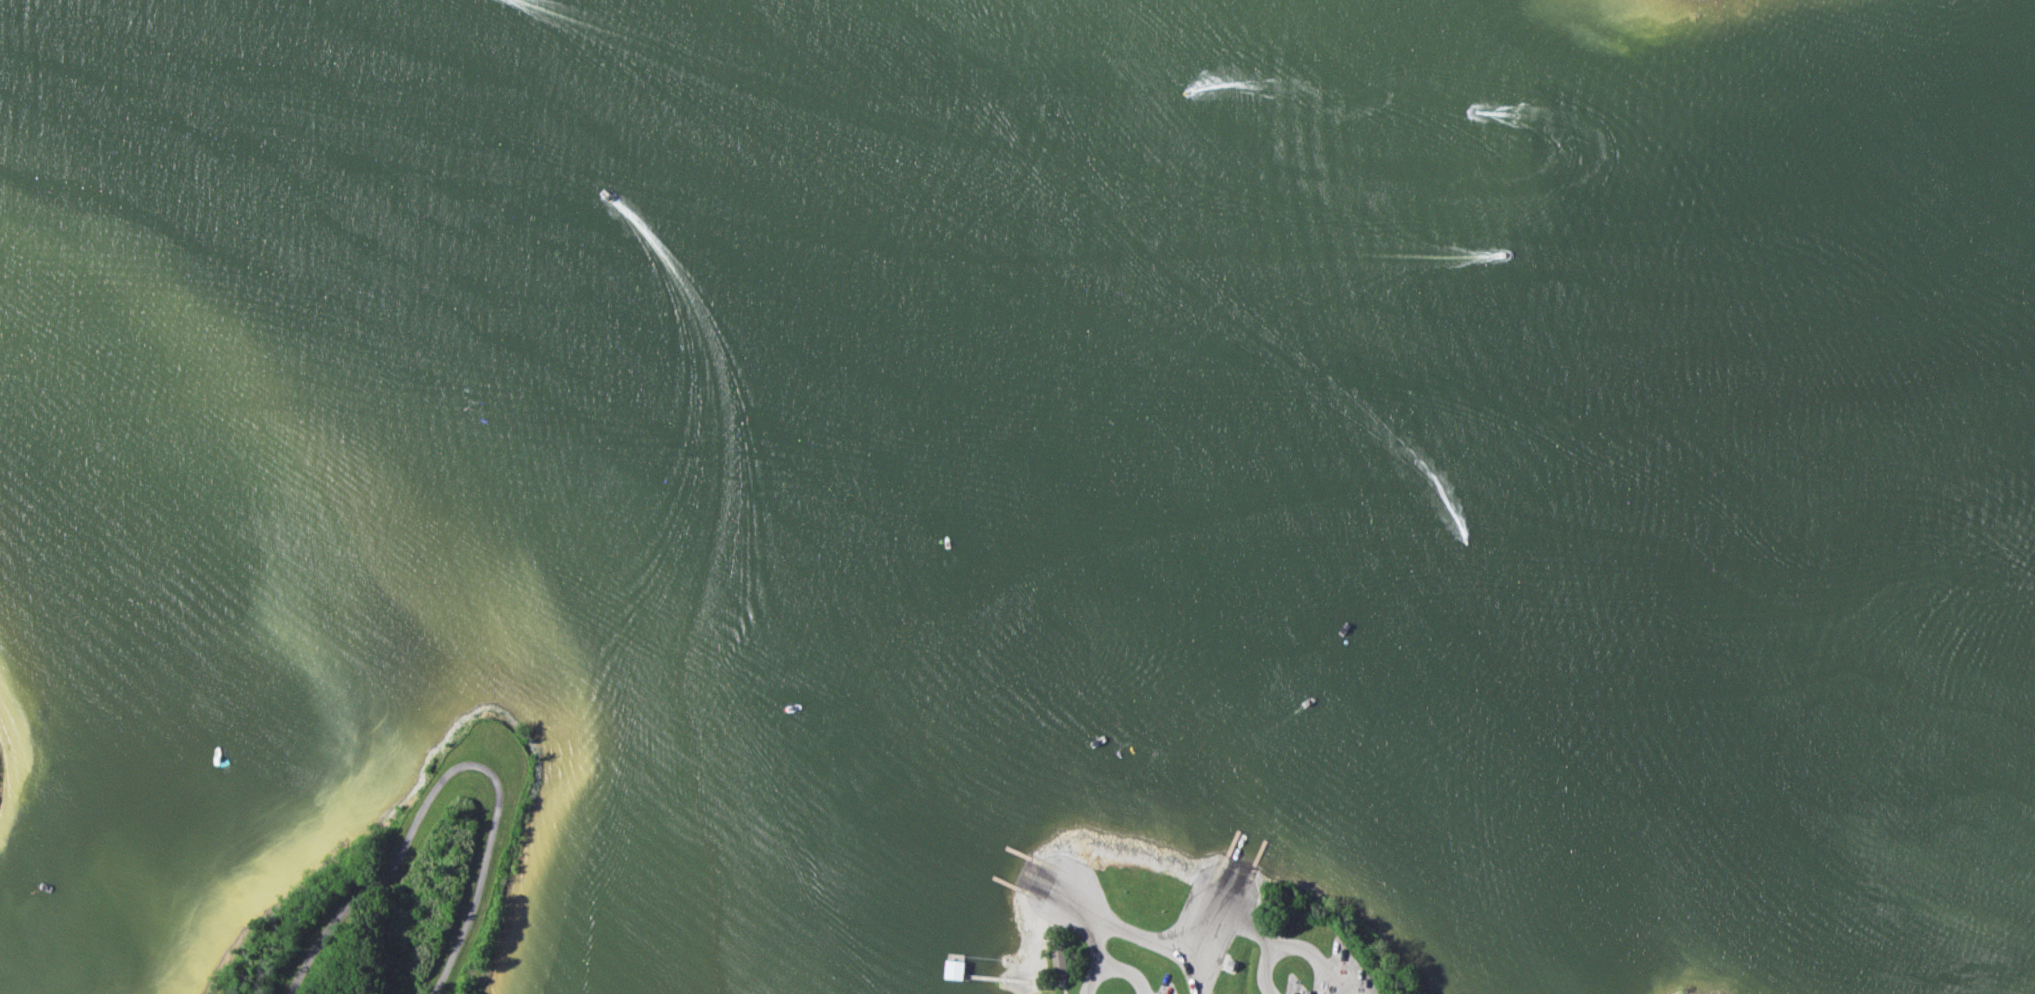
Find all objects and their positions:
park: (6, 770)
road: (451, 770)
pier: (1228, 848)
pier: (1020, 853)
pier: (1257, 858)
park: (423, 869)
pier: (1003, 882)
road: (1246, 928)
park: (1185, 930)
road: (1149, 939)
road: (1095, 943)
road: (1278, 947)
building: (1059, 962)
pier: (953, 965)
road: (1115, 968)
road: (1198, 976)
pier: (995, 978)
road: (1334, 979)
parking lot: (1335, 979)
road: (1046, 982)
road: (1063, 985)
parking lot: (1170, 993)
park: (1662, 993)

